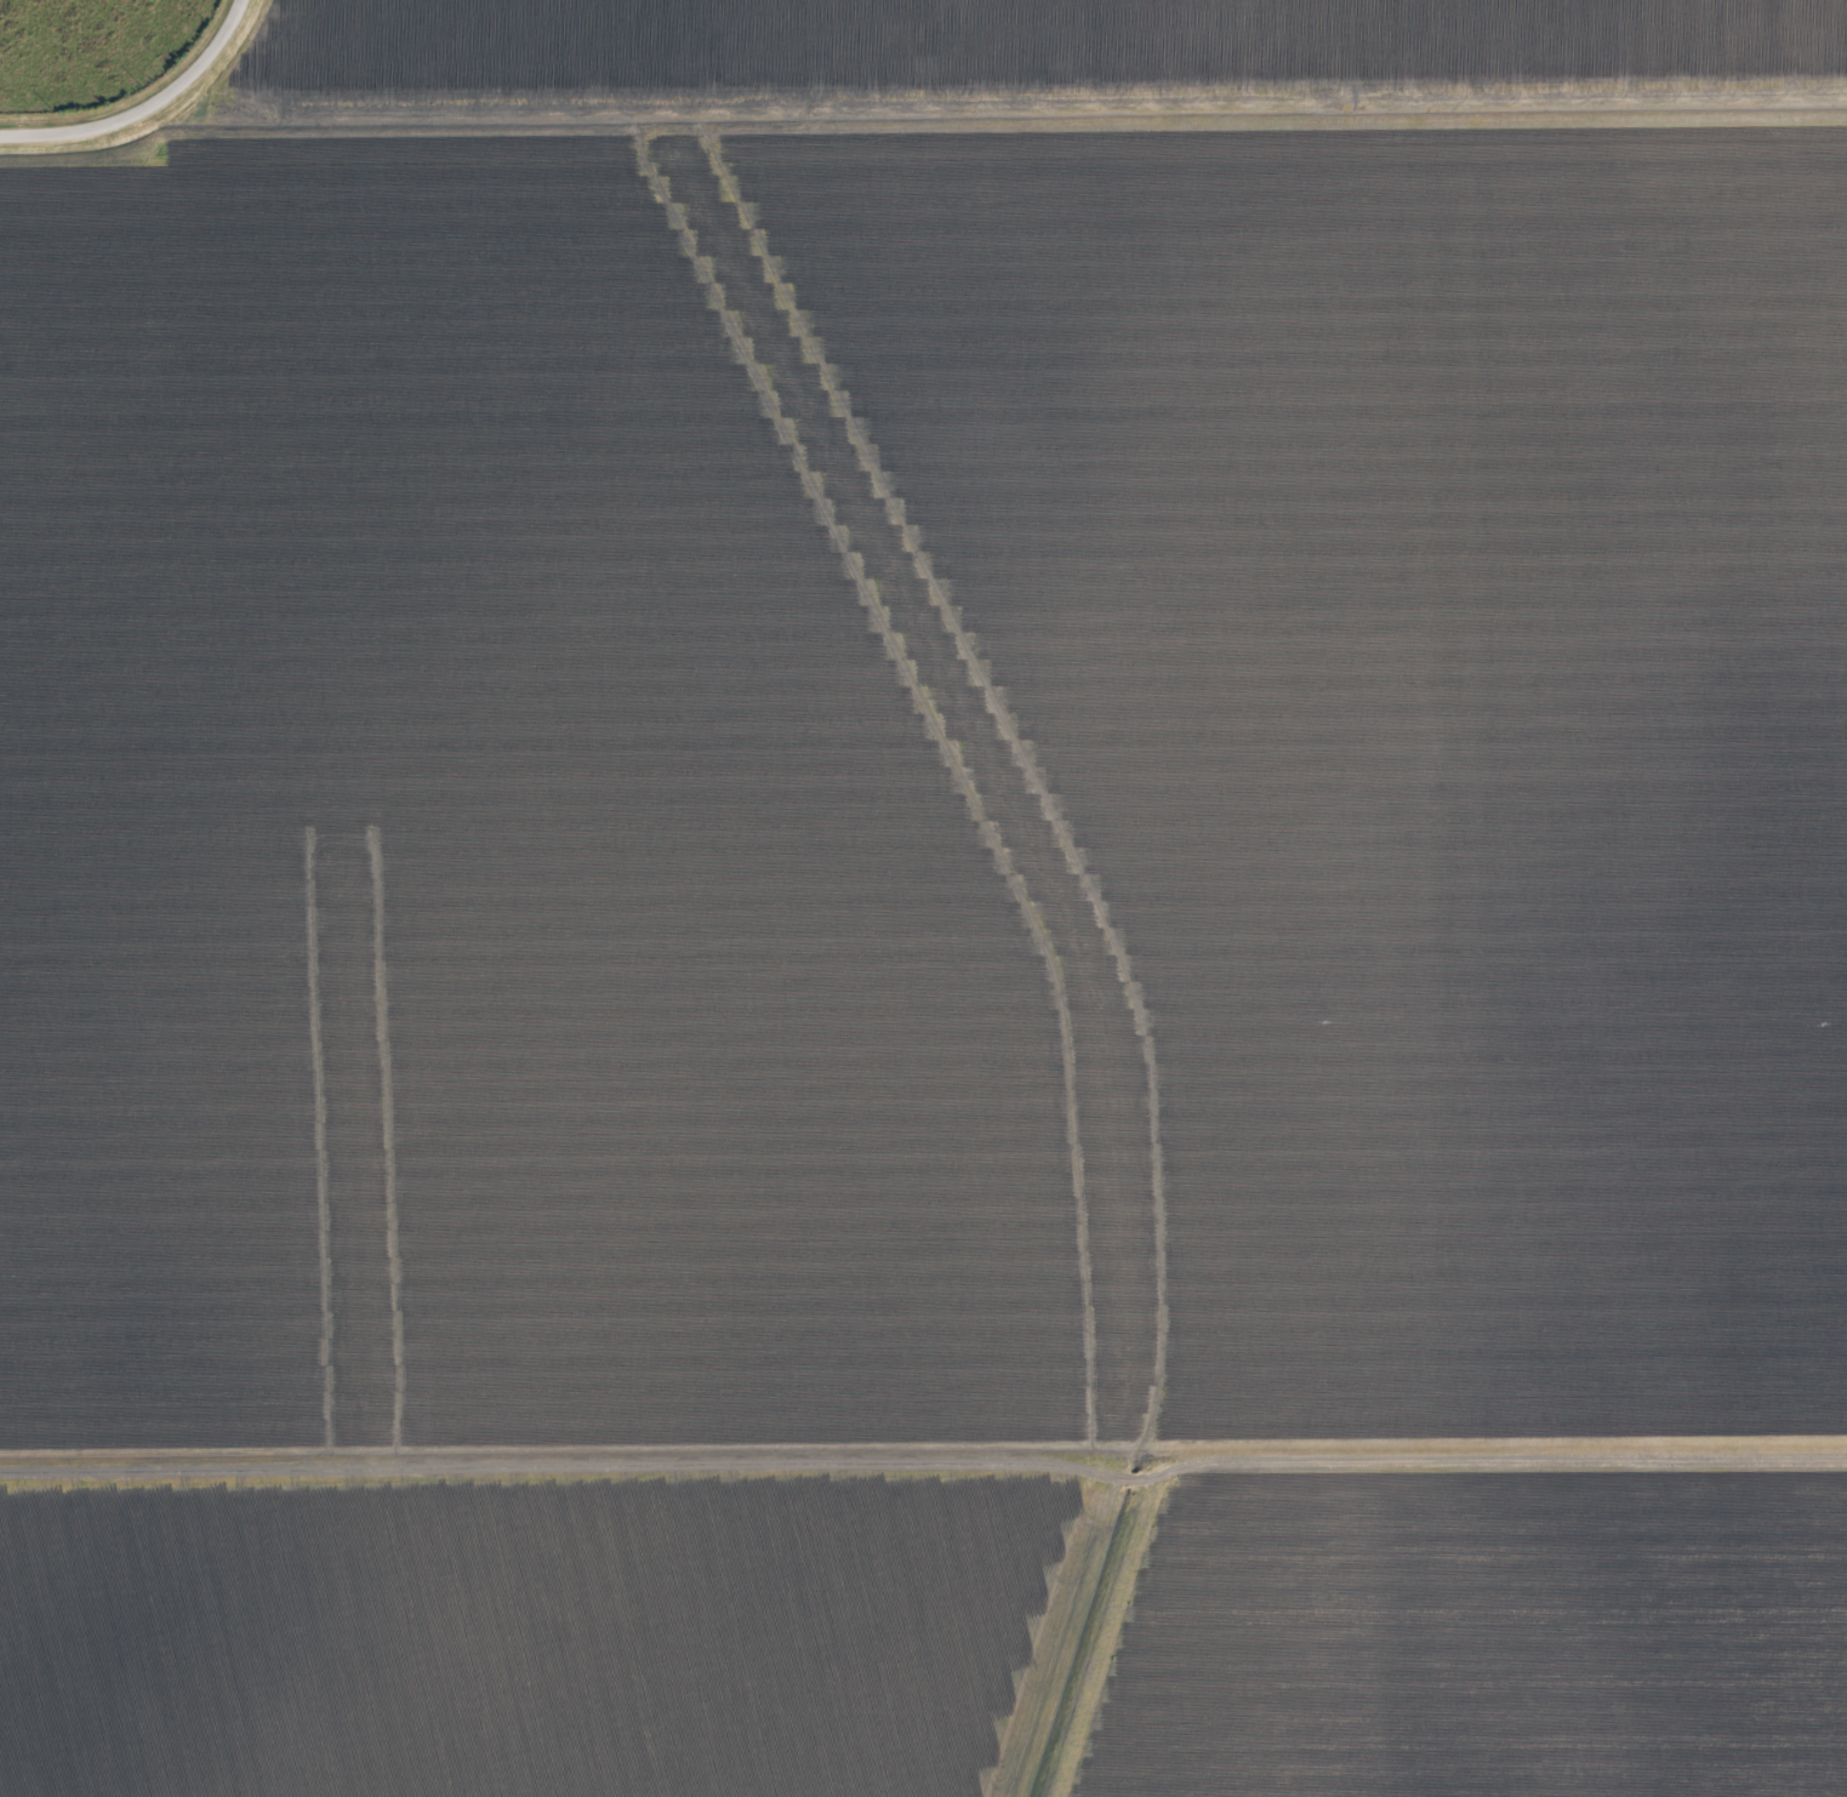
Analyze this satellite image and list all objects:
road: (155, 129)

